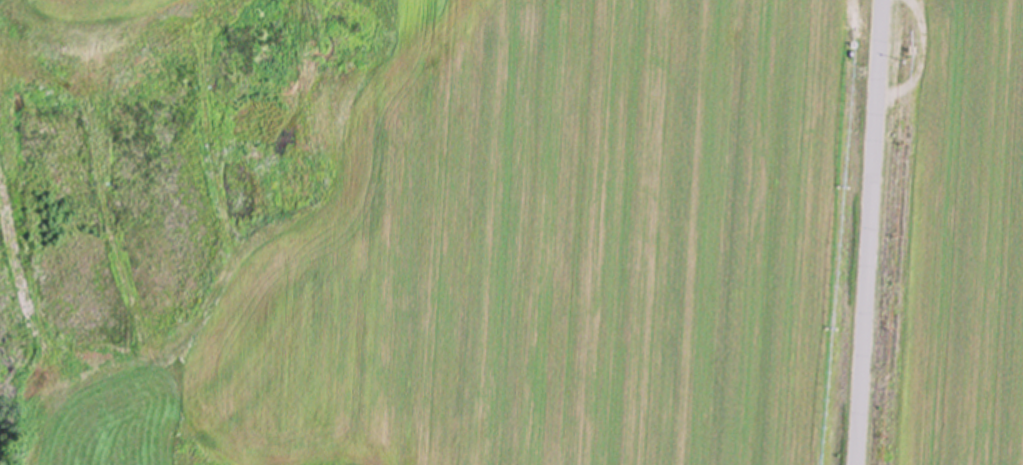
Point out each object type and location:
road: (870, 232)
crop: (953, 239)
crop: (505, 244)

